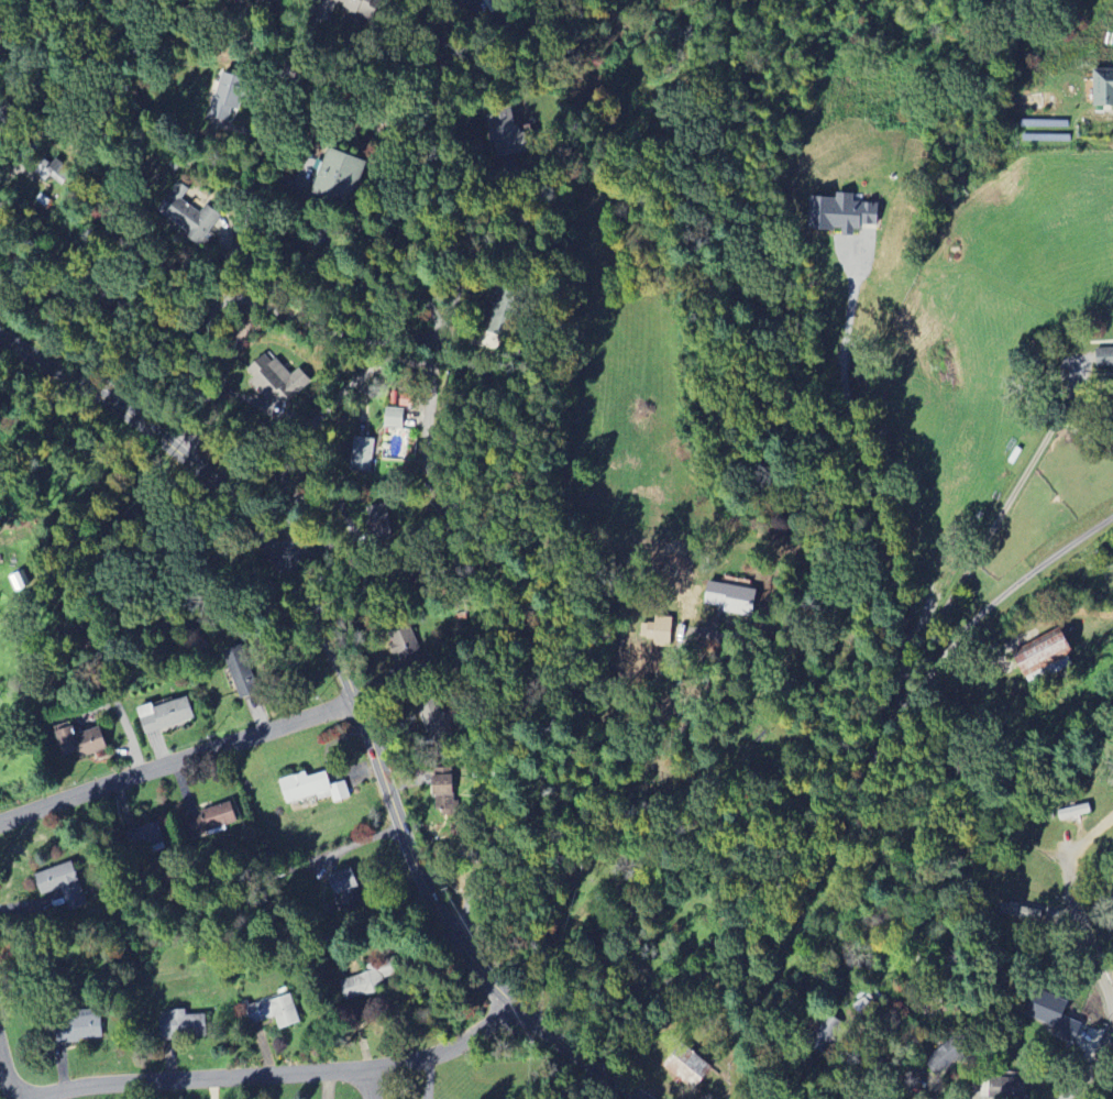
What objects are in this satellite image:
building: (243, 1)
building: (361, 8)
road: (110, 14)
building: (1103, 87)
building: (224, 101)
building: (505, 131)
road: (465, 167)
building: (51, 171)
building: (339, 175)
building: (841, 212)
building: (188, 216)
road: (132, 249)
road: (232, 264)
road: (24, 288)
building: (1105, 358)
building: (276, 380)
building: (394, 417)
building: (362, 454)
road: (872, 482)
road: (445, 497)
building: (378, 520)
road: (991, 529)
building: (731, 597)
building: (658, 628)
building: (406, 646)
building: (1047, 656)
building: (240, 670)
road: (353, 693)
building: (165, 715)
building: (433, 716)
road: (125, 724)
building: (80, 741)
road: (178, 763)
road: (863, 776)
building: (312, 788)
building: (444, 792)
building: (1073, 811)
building: (211, 818)
building: (145, 836)
building: (63, 884)
building: (345, 888)
building: (1020, 912)
road: (1093, 957)
building: (360, 985)
building: (273, 1010)
building: (1054, 1014)
building: (183, 1025)
building: (79, 1027)
building: (944, 1059)
building: (687, 1067)
road: (278, 1074)
road: (5, 1075)
road: (368, 1084)
road: (894, 1086)
building: (1009, 1088)

